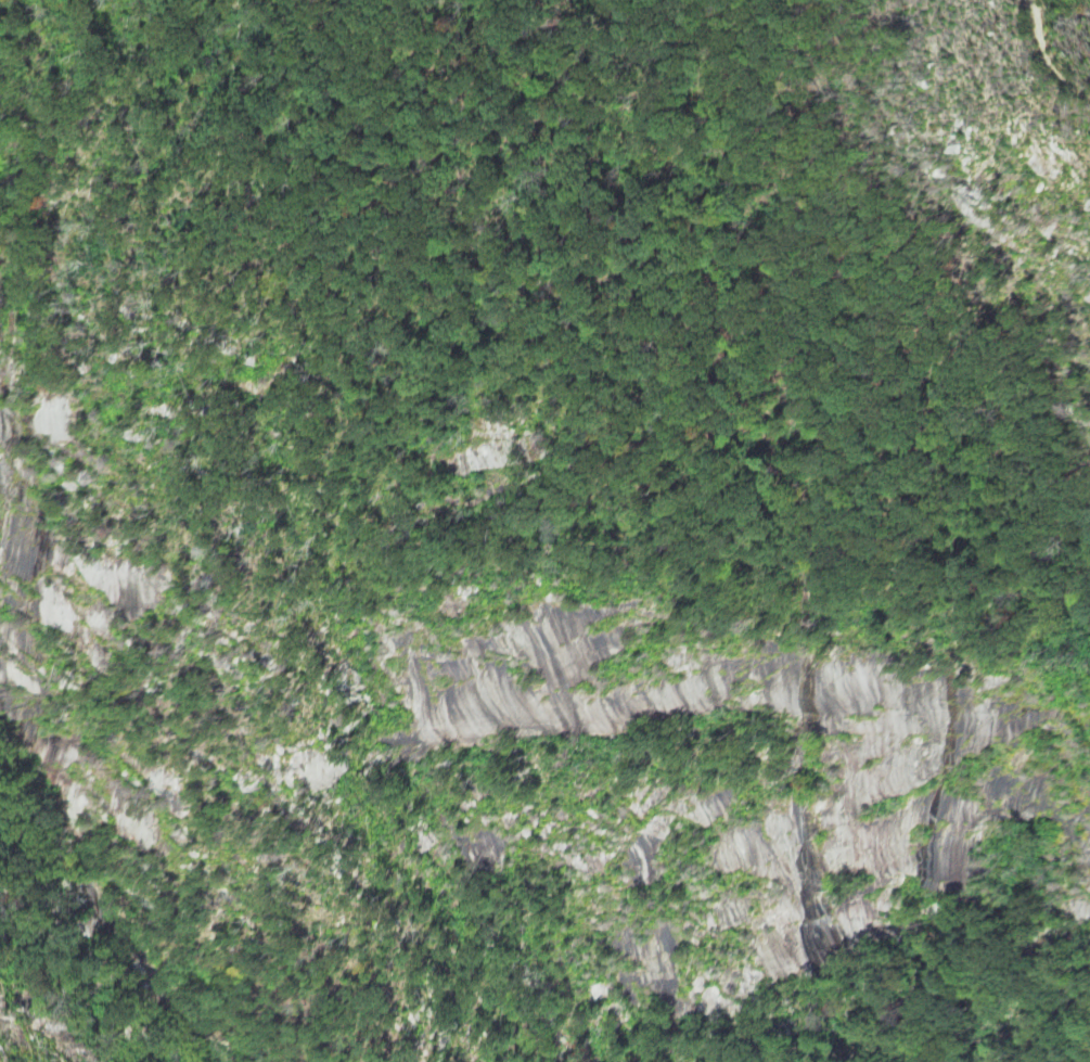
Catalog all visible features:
road: (1053, 54)
park: (239, 190)
park: (936, 939)

